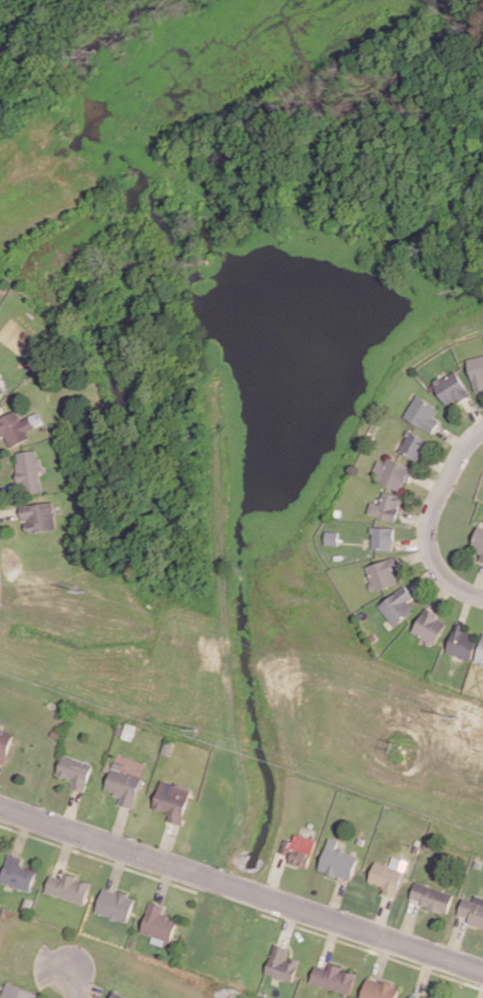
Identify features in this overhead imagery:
building: (477, 371)
building: (451, 387)
building: (1, 390)
building: (423, 413)
building: (17, 427)
building: (413, 445)
building: (28, 470)
building: (393, 473)
building: (386, 506)
road: (451, 512)
building: (38, 516)
building: (331, 537)
building: (382, 538)
building: (478, 541)
building: (382, 573)
road: (467, 586)
building: (397, 605)
building: (428, 627)
building: (461, 642)
building: (480, 651)
power tower: (193, 728)
building: (4, 745)
building: (76, 772)
building: (123, 784)
building: (173, 800)
building: (299, 849)
building: (337, 860)
building: (17, 874)
building: (386, 878)
building: (68, 887)
road: (241, 890)
building: (431, 897)
building: (115, 904)
building: (473, 910)
building: (158, 924)
building: (281, 964)
building: (333, 977)
road: (74, 980)
building: (378, 989)
building: (19, 992)
building: (117, 995)
building: (414, 996)

